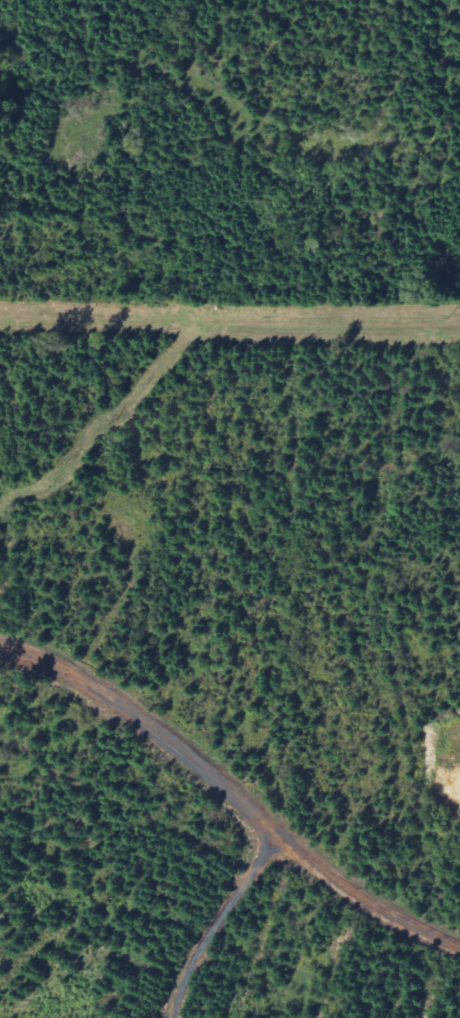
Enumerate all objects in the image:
road: (233, 794)
road: (214, 921)

